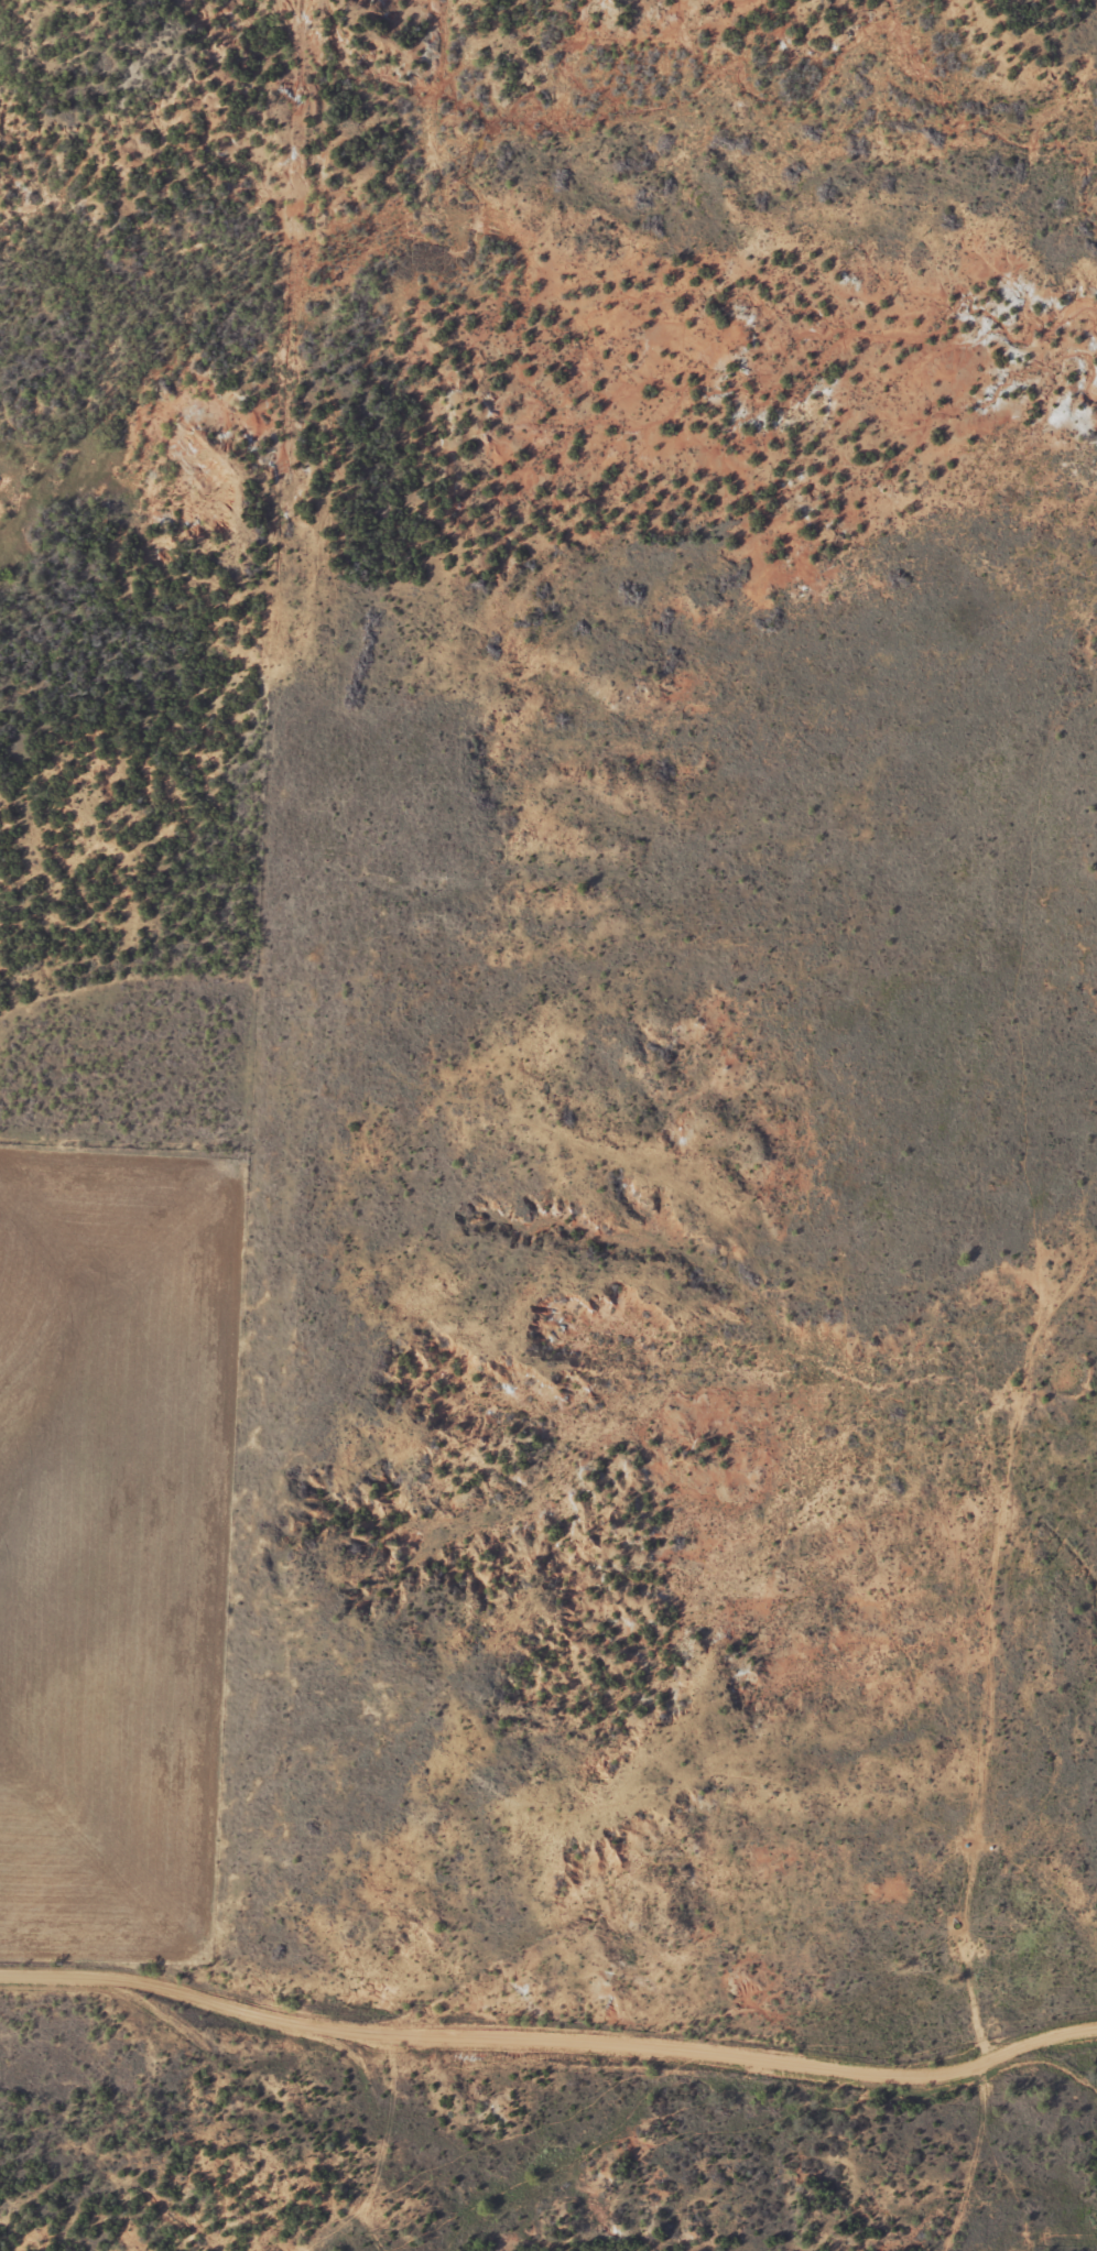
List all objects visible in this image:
road: (544, 2073)
road: (1091, 2204)

